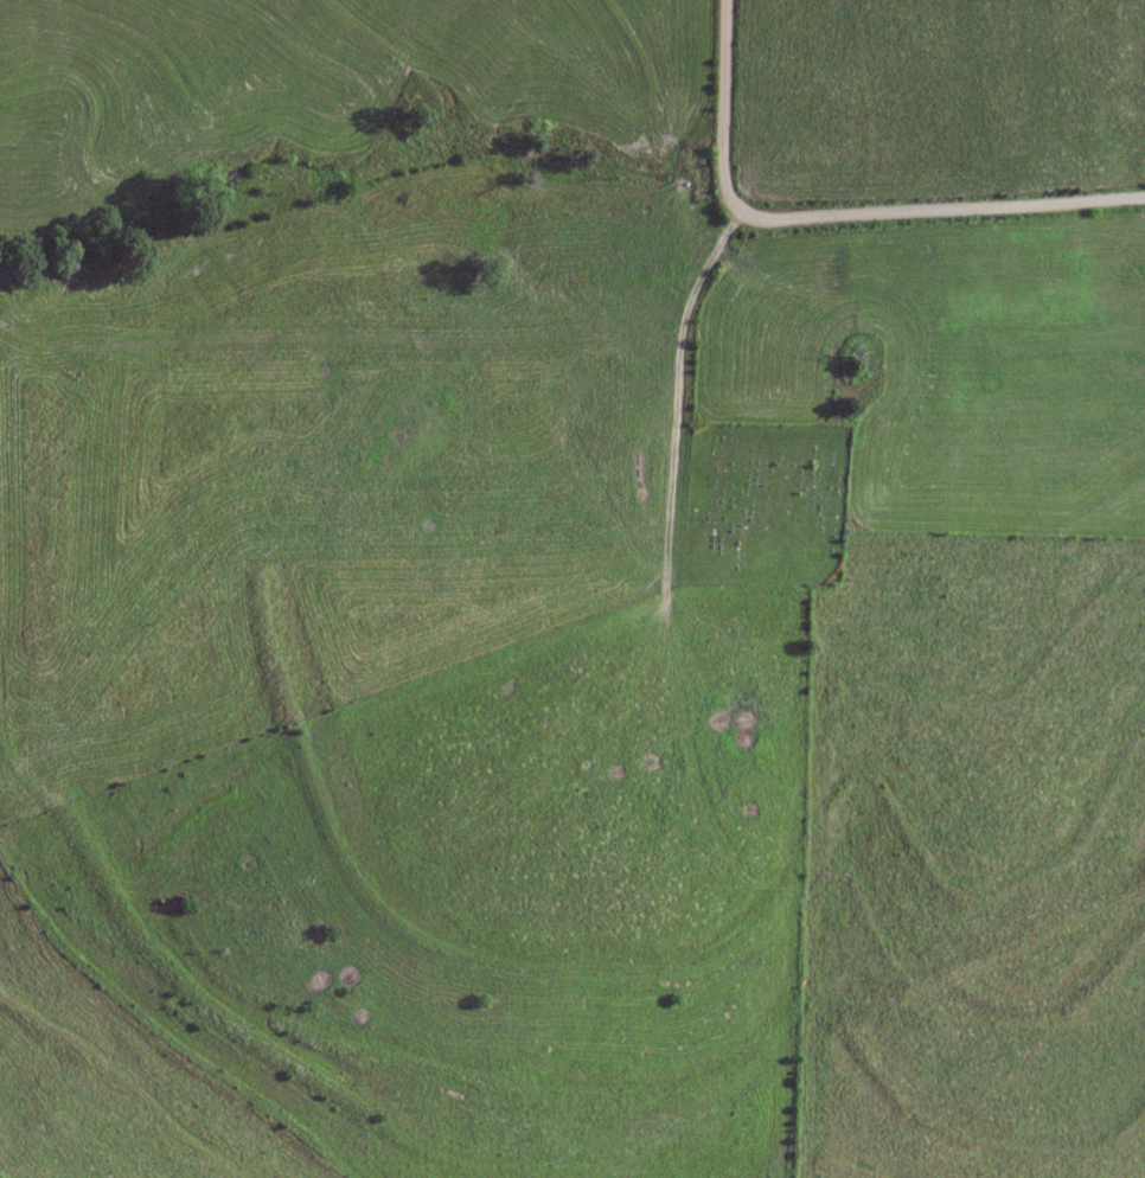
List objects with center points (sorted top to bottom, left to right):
road: (836, 213)

